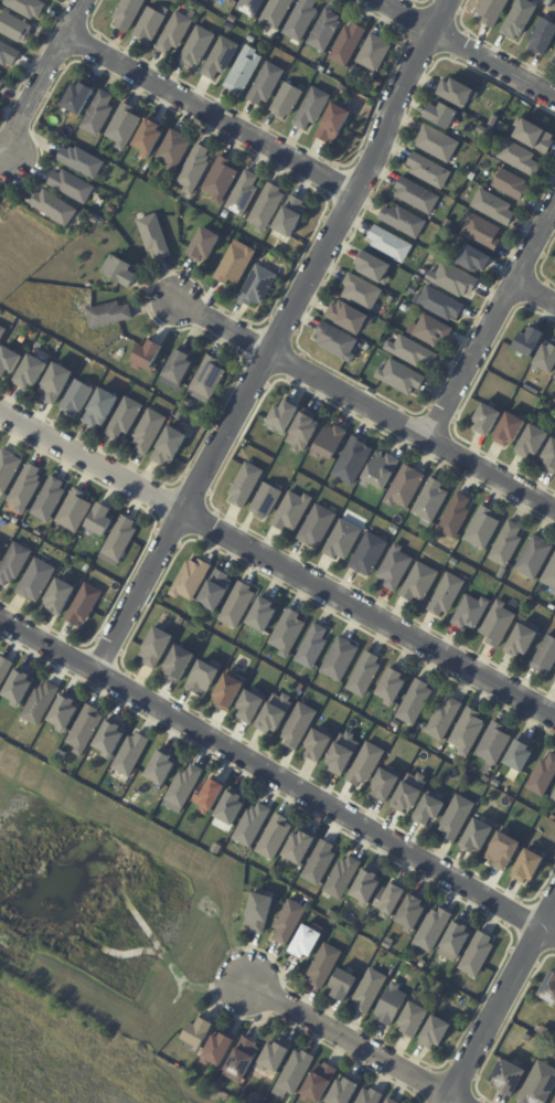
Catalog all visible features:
building: (231, 1)
building: (551, 2)
building: (253, 7)
building: (29, 8)
building: (494, 11)
building: (278, 12)
building: (129, 13)
building: (522, 19)
building: (234, 20)
building: (303, 20)
building: (152, 23)
building: (15, 28)
building: (327, 31)
building: (177, 33)
building: (544, 38)
building: (253, 42)
building: (350, 45)
building: (199, 47)
road: (465, 49)
building: (376, 53)
building: (9, 54)
building: (222, 59)
building: (554, 60)
building: (246, 70)
building: (323, 70)
road: (44, 75)
building: (0, 77)
building: (268, 84)
building: (2, 86)
building: (459, 93)
building: (81, 97)
building: (289, 102)
building: (313, 109)
building: (470, 112)
building: (99, 115)
building: (442, 115)
road: (210, 116)
building: (493, 121)
building: (337, 123)
building: (125, 126)
building: (503, 127)
building: (482, 131)
building: (535, 135)
building: (151, 137)
building: (439, 144)
building: (175, 150)
building: (495, 153)
building: (522, 159)
building: (83, 162)
building: (196, 169)
building: (431, 171)
building: (223, 180)
building: (513, 185)
building: (74, 187)
building: (245, 194)
building: (418, 197)
building: (56, 208)
building: (495, 208)
building: (183, 209)
building: (268, 209)
building: (227, 214)
building: (293, 218)
building: (405, 222)
building: (449, 224)
building: (483, 232)
building: (156, 236)
building: (206, 245)
building: (392, 245)
building: (477, 259)
building: (237, 264)
building: (554, 264)
building: (376, 267)
building: (121, 272)
building: (457, 280)
building: (259, 287)
building: (415, 290)
road: (536, 291)
building: (363, 293)
building: (393, 300)
building: (444, 305)
building: (409, 307)
building: (110, 315)
building: (352, 318)
road: (493, 327)
building: (66, 330)
building: (435, 331)
building: (2, 333)
road: (276, 338)
building: (530, 341)
building: (339, 343)
building: (39, 348)
building: (415, 352)
building: (149, 356)
building: (546, 358)
building: (10, 362)
building: (181, 367)
building: (509, 371)
building: (33, 373)
building: (210, 378)
building: (404, 379)
building: (57, 384)
building: (78, 399)
building: (183, 404)
road: (364, 405)
building: (103, 409)
building: (281, 416)
building: (181, 417)
building: (126, 420)
building: (488, 420)
building: (511, 429)
building: (302, 432)
building: (150, 433)
building: (534, 443)
building: (171, 447)
building: (327, 447)
building: (551, 458)
building: (351, 465)
building: (8, 470)
building: (382, 471)
building: (247, 486)
building: (407, 488)
building: (26, 489)
building: (50, 500)
building: (267, 501)
building: (433, 501)
building: (76, 512)
building: (293, 512)
building: (457, 517)
building: (103, 520)
building: (318, 527)
building: (484, 529)
building: (40, 532)
building: (343, 541)
building: (120, 542)
building: (508, 545)
building: (0, 550)
building: (370, 554)
building: (1, 555)
building: (535, 558)
road: (276, 563)
building: (15, 564)
building: (86, 569)
building: (396, 569)
building: (502, 573)
building: (551, 576)
building: (38, 581)
building: (192, 581)
building: (421, 583)
building: (217, 592)
building: (554, 593)
building: (448, 595)
building: (61, 598)
building: (85, 605)
building: (238, 606)
building: (472, 614)
building: (264, 616)
building: (181, 622)
building: (499, 624)
building: (289, 634)
building: (523, 640)
building: (157, 648)
building: (314, 648)
building: (546, 656)
building: (341, 660)
building: (180, 665)
building: (4, 670)
building: (203, 676)
building: (365, 676)
building: (554, 678)
building: (393, 687)
building: (20, 688)
building: (228, 693)
building: (250, 703)
building: (416, 703)
building: (41, 704)
building: (274, 712)
building: (66, 713)
building: (445, 720)
building: (298, 724)
building: (398, 725)
building: (86, 731)
building: (468, 733)
building: (111, 740)
building: (318, 743)
building: (495, 744)
building: (342, 753)
building: (522, 755)
building: (131, 756)
building: (365, 763)
building: (163, 768)
road: (277, 777)
building: (544, 777)
building: (386, 783)
building: (185, 787)
building: (409, 792)
building: (209, 795)
building: (554, 798)
building: (234, 808)
building: (431, 810)
building: (458, 819)
building: (253, 827)
building: (480, 837)
building: (275, 839)
building: (301, 848)
building: (217, 849)
building: (503, 850)
building: (321, 865)
building: (530, 868)
building: (343, 879)
building: (367, 888)
building: (391, 901)
building: (260, 913)
building: (413, 914)
building: (290, 923)
building: (433, 931)
building: (459, 938)
building: (307, 945)
building: (479, 956)
building: (325, 967)
building: (344, 987)
building: (549, 989)
building: (371, 993)
road: (502, 1004)
building: (392, 1006)
building: (414, 1022)
building: (436, 1033)
building: (200, 1036)
road: (355, 1043)
building: (220, 1051)
building: (276, 1058)
building: (243, 1062)
building: (297, 1074)
building: (510, 1077)
building: (222, 1085)
building: (320, 1085)
building: (540, 1085)
building: (345, 1091)
building: (371, 1097)
building: (256, 1099)
building: (389, 1102)
building: (554, 1102)

